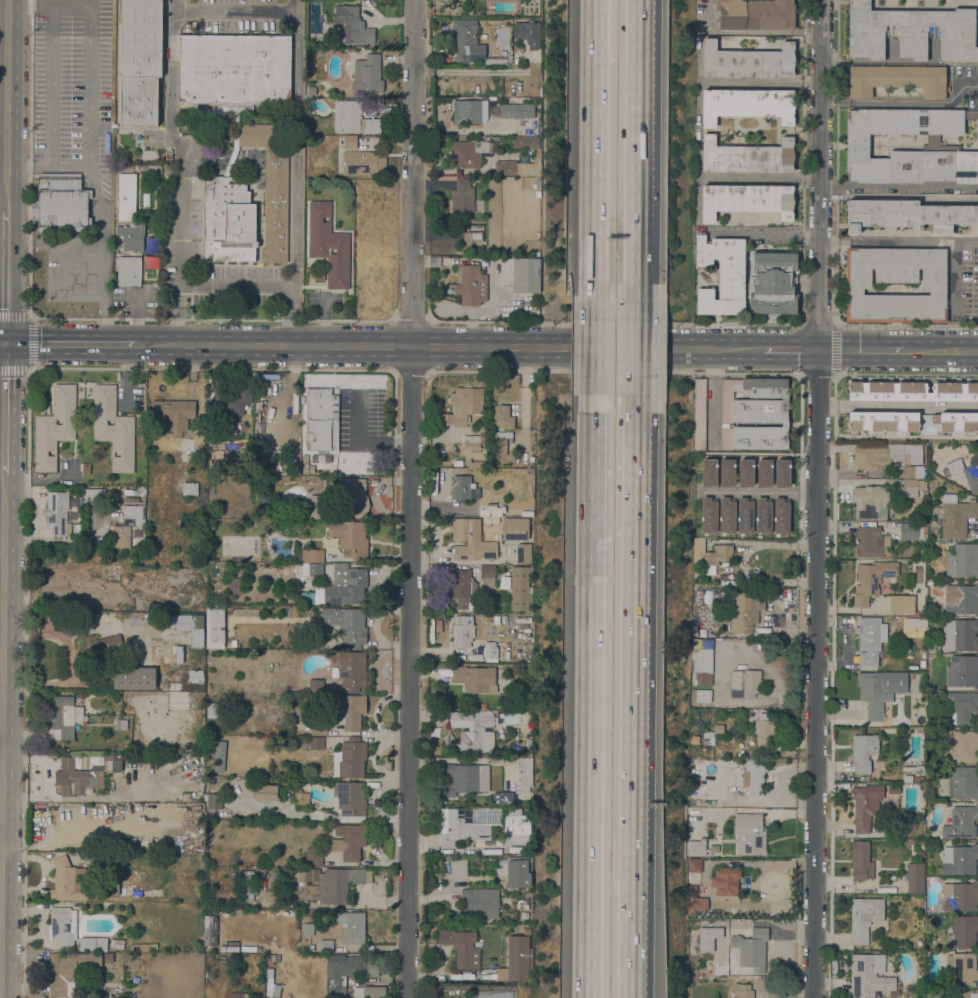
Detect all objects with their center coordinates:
building: (497, 0)
building: (756, 14)
road: (296, 15)
building: (351, 26)
road: (750, 31)
building: (911, 32)
building: (531, 33)
building: (471, 44)
building: (518, 48)
road: (51, 52)
building: (140, 61)
building: (748, 61)
road: (172, 66)
building: (234, 71)
building: (366, 74)
building: (897, 79)
building: (311, 90)
road: (87, 103)
building: (747, 105)
road: (7, 106)
building: (488, 111)
building: (353, 117)
building: (977, 122)
road: (698, 129)
road: (597, 141)
road: (636, 141)
building: (350, 142)
building: (526, 142)
building: (233, 146)
road: (295, 147)
building: (941, 147)
building: (468, 153)
building: (150, 154)
building: (746, 157)
building: (362, 162)
building: (516, 168)
building: (479, 178)
building: (537, 182)
building: (271, 190)
building: (537, 194)
road: (831, 195)
road: (907, 195)
building: (126, 196)
building: (462, 199)
building: (746, 200)
building: (61, 204)
road: (99, 207)
building: (908, 215)
building: (228, 221)
building: (466, 227)
road: (764, 233)
building: (132, 236)
road: (177, 236)
road: (834, 240)
road: (913, 240)
building: (473, 241)
building: (328, 245)
building: (535, 253)
building: (128, 270)
building: (520, 274)
building: (721, 275)
building: (318, 276)
road: (6, 277)
road: (234, 281)
building: (773, 283)
building: (857, 285)
building: (471, 286)
road: (288, 303)
road: (212, 320)
road: (411, 322)
road: (614, 323)
road: (817, 325)
road: (906, 325)
road: (3, 341)
traffic signals: (6, 341)
road: (30, 342)
road: (70, 342)
road: (247, 344)
road: (384, 346)
road: (438, 346)
road: (595, 347)
road: (614, 347)
road: (634, 347)
road: (790, 349)
road: (858, 350)
road: (939, 350)
road: (31, 369)
road: (211, 369)
road: (393, 372)
road: (410, 372)
road: (614, 373)
road: (817, 374)
road: (905, 375)
building: (912, 391)
building: (231, 399)
building: (463, 405)
road: (897, 405)
road: (5, 407)
building: (173, 414)
building: (700, 414)
building: (754, 414)
parking lot: (362, 417)
building: (502, 417)
building: (321, 419)
building: (883, 421)
building: (956, 421)
building: (59, 422)
building: (110, 422)
road: (394, 423)
building: (54, 427)
building: (113, 427)
road: (358, 442)
building: (471, 442)
building: (499, 443)
road: (2, 453)
building: (51, 453)
building: (117, 453)
building: (887, 456)
building: (458, 463)
building: (85, 467)
building: (913, 471)
building: (964, 472)
building: (709, 473)
building: (727, 473)
building: (746, 473)
building: (764, 473)
building: (781, 473)
building: (461, 487)
building: (912, 487)
building: (189, 488)
building: (503, 489)
building: (143, 490)
road: (756, 491)
building: (95, 495)
building: (352, 496)
road: (410, 498)
road: (815, 498)
building: (490, 499)
road: (37, 500)
building: (871, 501)
building: (317, 507)
road: (2, 513)
building: (57, 513)
building: (135, 514)
building: (708, 515)
building: (727, 515)
building: (745, 516)
building: (763, 516)
building: (781, 516)
building: (955, 516)
building: (515, 528)
building: (913, 531)
building: (124, 537)
building: (350, 539)
road: (53, 540)
building: (470, 540)
building: (871, 542)
building: (523, 553)
building: (307, 555)
building: (710, 555)
building: (962, 560)
building: (302, 568)
building: (315, 569)
building: (487, 575)
building: (871, 580)
building: (929, 581)
building: (504, 582)
building: (235, 586)
building: (339, 587)
building: (463, 589)
building: (521, 589)
building: (961, 599)
building: (902, 604)
building: (744, 611)
road: (1, 612)
building: (247, 612)
building: (105, 615)
building: (347, 624)
building: (215, 626)
building: (462, 631)
building: (694, 633)
building: (960, 634)
building: (197, 637)
building: (870, 639)
building: (317, 642)
building: (233, 644)
building: (101, 645)
building: (933, 646)
building: (490, 650)
building: (130, 652)
building: (923, 654)
building: (922, 663)
building: (702, 666)
building: (351, 670)
building: (962, 671)
building: (195, 673)
building: (133, 678)
building: (475, 678)
building: (745, 681)
road: (26, 684)
building: (315, 685)
building: (874, 693)
road: (590, 705)
road: (630, 705)
building: (482, 706)
building: (961, 707)
building: (214, 710)
building: (349, 711)
building: (63, 717)
building: (121, 724)
building: (307, 726)
building: (718, 728)
building: (318, 729)
building: (472, 730)
building: (765, 732)
building: (706, 734)
building: (694, 739)
building: (316, 743)
building: (528, 743)
building: (963, 746)
building: (863, 751)
building: (518, 754)
building: (528, 754)
building: (717, 754)
building: (219, 755)
building: (350, 758)
building: (112, 762)
building: (908, 767)
building: (80, 773)
building: (523, 775)
building: (466, 778)
building: (753, 779)
building: (917, 779)
building: (963, 782)
building: (894, 789)
building: (265, 791)
building: (740, 794)
building: (351, 798)
building: (297, 799)
building: (503, 799)
building: (214, 801)
building: (525, 803)
building: (865, 805)
building: (432, 813)
building: (960, 822)
building: (516, 826)
building: (459, 827)
building: (749, 834)
building: (349, 841)
building: (911, 842)
building: (921, 842)
building: (697, 847)
building: (920, 854)
building: (314, 856)
building: (960, 859)
building: (861, 861)
building: (694, 865)
building: (518, 872)
building: (915, 878)
building: (68, 880)
building: (725, 880)
building: (112, 882)
building: (245, 884)
building: (328, 884)
building: (692, 892)
building: (959, 896)
building: (731, 898)
building: (479, 903)
building: (521, 905)
building: (864, 917)
building: (62, 926)
building: (351, 927)
building: (207, 929)
building: (308, 929)
building: (963, 932)
building: (690, 934)
building: (708, 937)
building: (93, 944)
building: (118, 944)
building: (326, 946)
building: (139, 947)
building: (462, 948)
building: (692, 948)
building: (751, 949)
building: (517, 958)
building: (221, 959)
building: (271, 959)
building: (962, 969)
building: (68, 971)
building: (347, 971)
building: (269, 973)
building: (869, 976)
building: (737, 978)
building: (273, 989)
building: (742, 991)
building: (371, 992)
building: (234, 995)
building: (247, 995)
park: (493, 995)
building: (974, 995)
building: (122, 996)

